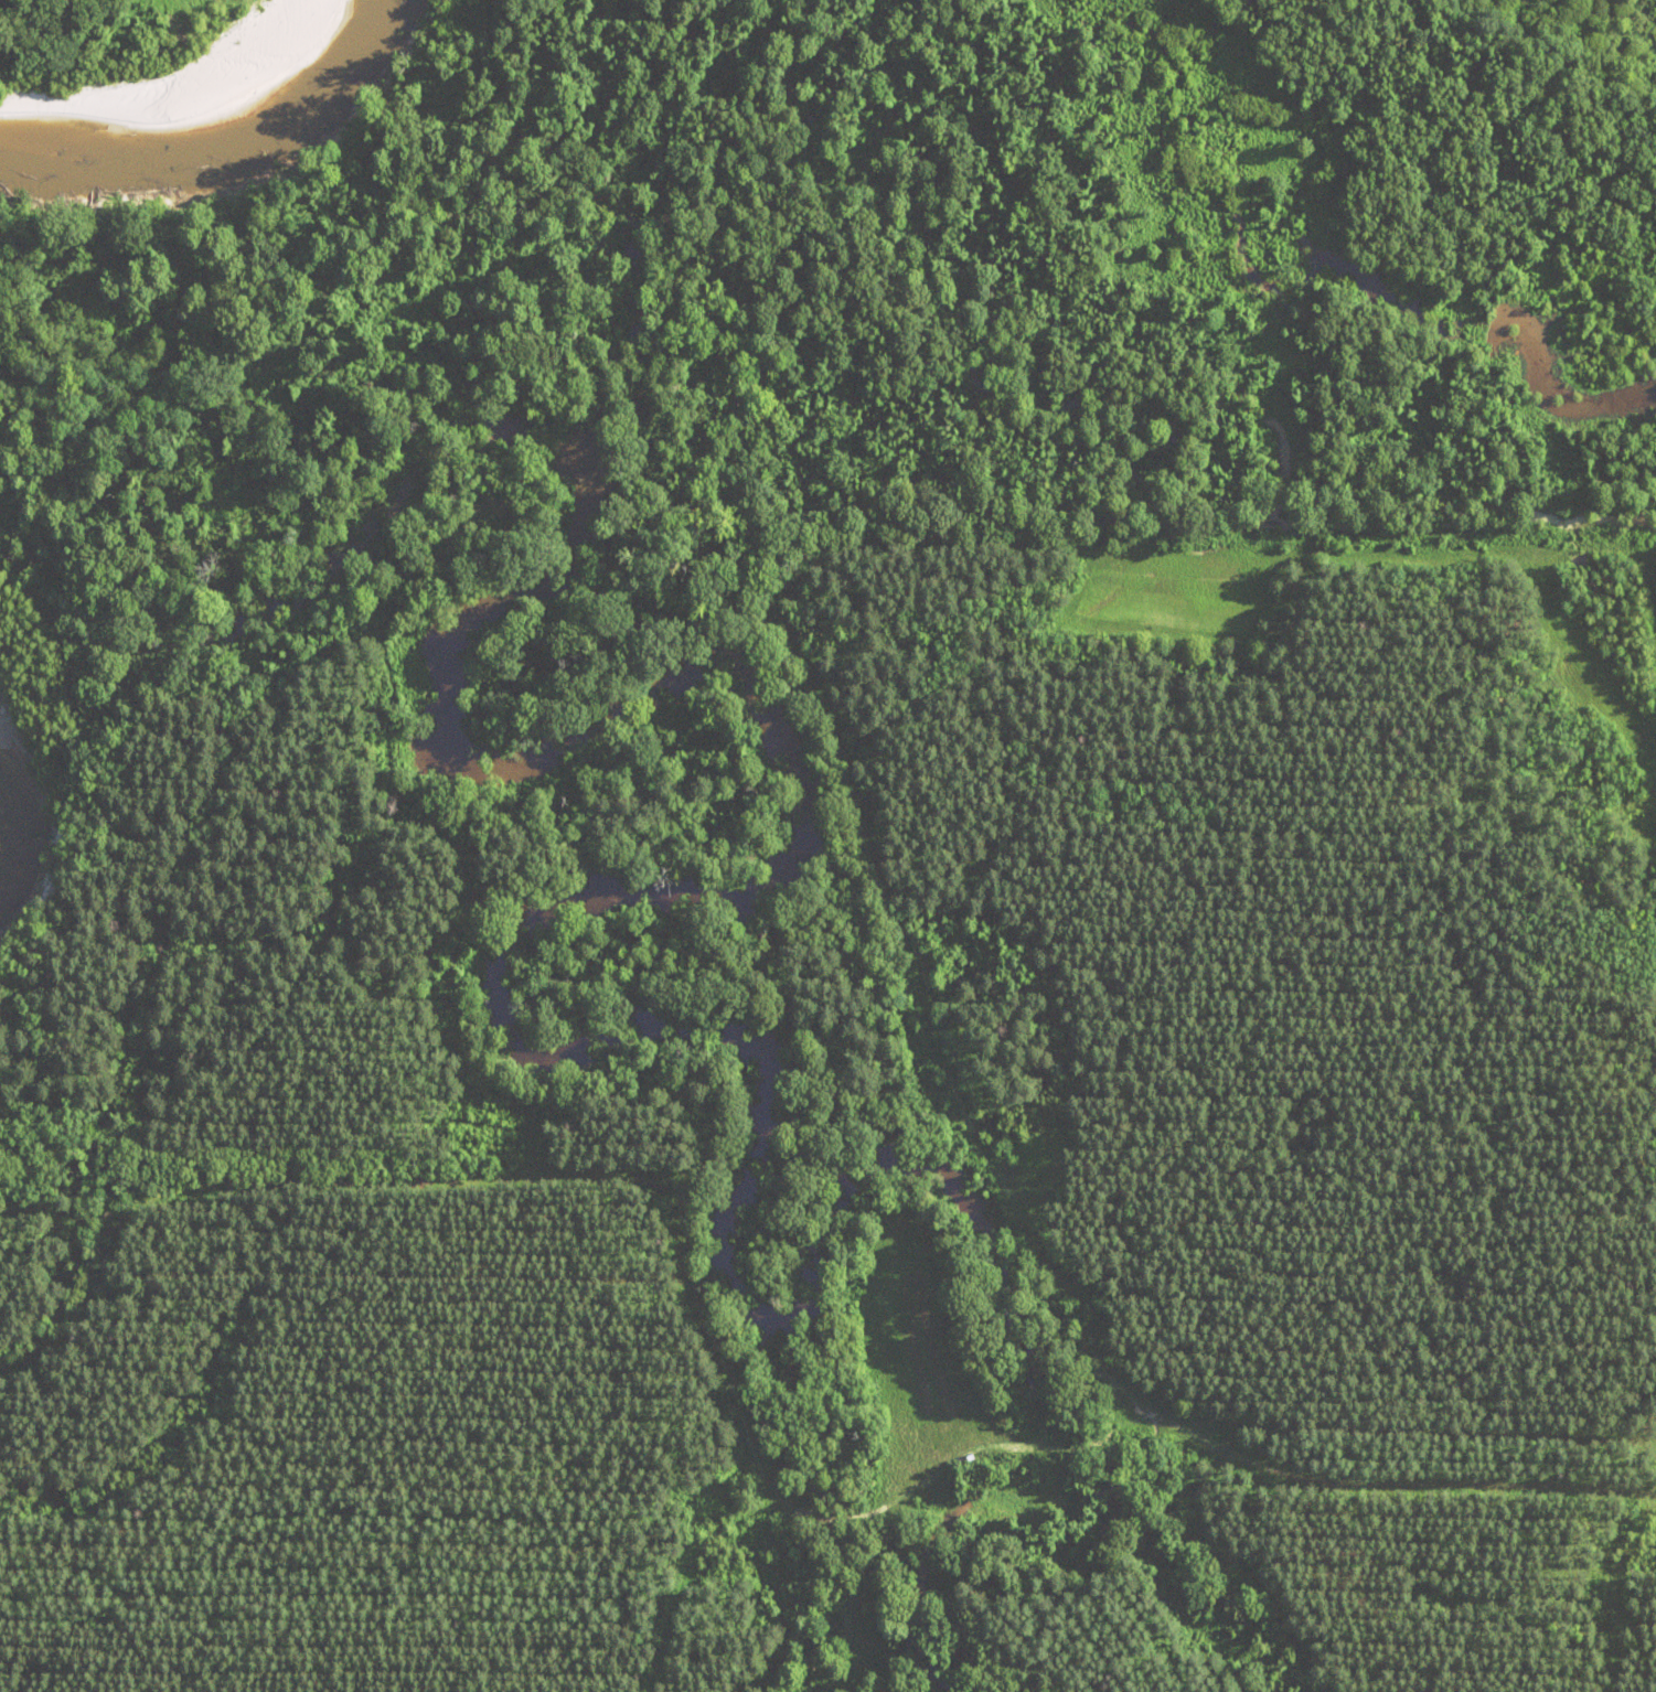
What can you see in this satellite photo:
river: (145, 56)
river: (1, 679)

